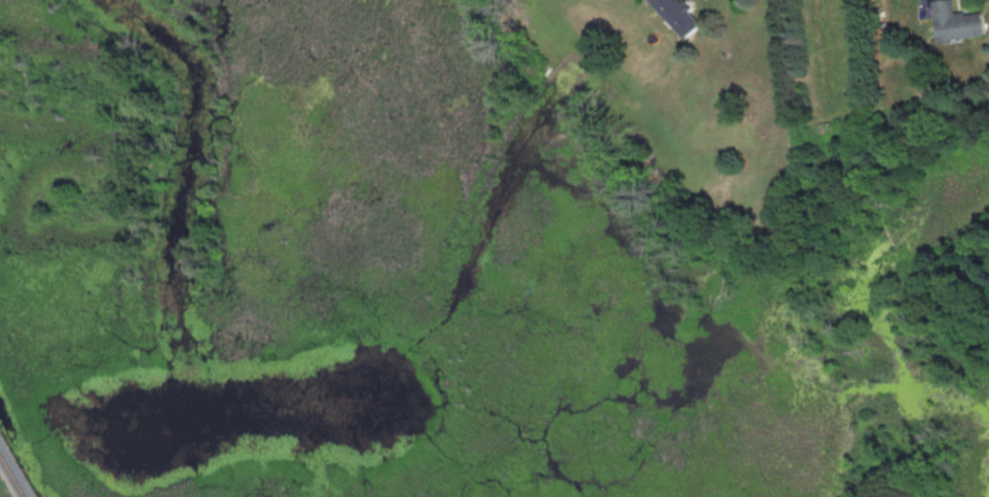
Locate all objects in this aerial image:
building: (683, 15)
building: (961, 21)
railway: (9, 478)

